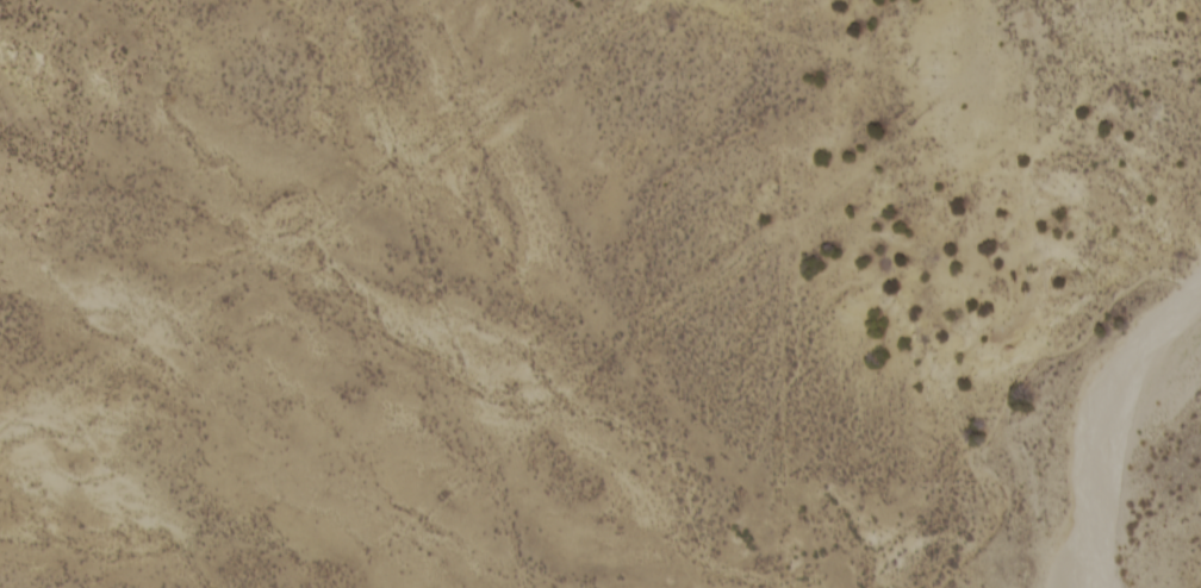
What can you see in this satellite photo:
road: (815, 49)
river: (1158, 539)

